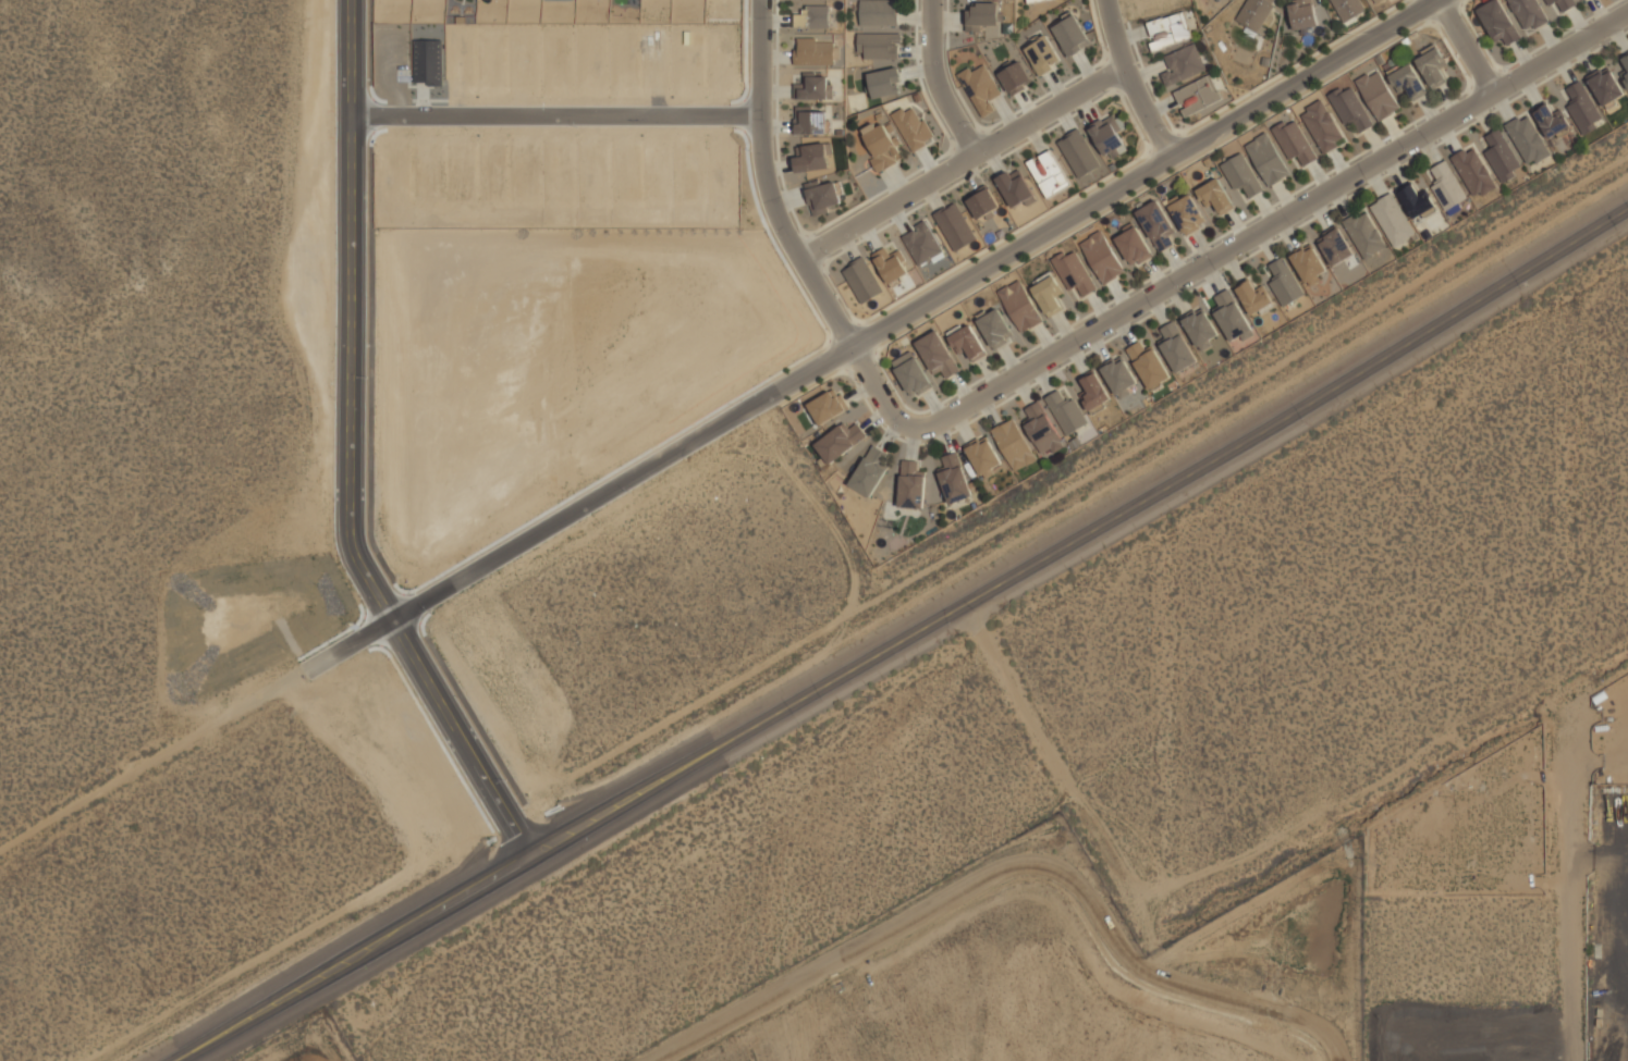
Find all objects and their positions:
building: (1581, 0)
building: (1584, 0)
building: (1031, 1)
building: (1378, 1)
building: (1562, 4)
building: (1348, 9)
building: (879, 13)
building: (1256, 13)
building: (983, 14)
building: (1302, 14)
building: (1528, 14)
building: (813, 17)
building: (1498, 24)
building: (1170, 32)
building: (1072, 35)
building: (878, 47)
road: (1470, 48)
building: (815, 52)
building: (1043, 57)
building: (395, 62)
building: (591, 62)
building: (426, 63)
building: (556, 63)
building: (624, 63)
building: (686, 64)
building: (460, 65)
building: (1184, 65)
building: (523, 66)
building: (653, 66)
building: (721, 66)
building: (490, 67)
building: (1434, 69)
building: (1625, 73)
building: (1014, 77)
road: (941, 82)
road: (1134, 82)
building: (1407, 82)
building: (884, 83)
building: (1605, 86)
building: (813, 88)
building: (981, 88)
building: (1379, 95)
building: (1198, 97)
building: (1350, 108)
building: (1583, 108)
road: (562, 121)
building: (1552, 121)
building: (812, 122)
building: (911, 127)
building: (1323, 127)
building: (1109, 136)
building: (1528, 139)
building: (1295, 144)
building: (882, 147)
building: (1079, 153)
building: (1502, 157)
building: (811, 158)
road: (968, 160)
building: (1268, 160)
building: (624, 171)
building: (687, 171)
building: (1473, 171)
building: (461, 172)
building: (524, 172)
building: (558, 173)
building: (592, 173)
building: (656, 173)
building: (1049, 173)
building: (722, 174)
building: (428, 175)
building: (491, 175)
building: (1241, 175)
building: (396, 176)
building: (1447, 186)
building: (1015, 188)
building: (1215, 196)
building: (822, 198)
building: (1416, 200)
building: (982, 201)
building: (1188, 214)
building: (1393, 220)
building: (1156, 225)
building: (955, 226)
building: (1364, 234)
building: (923, 245)
building: (1335, 246)
building: (1134, 247)
building: (1103, 258)
building: (1307, 262)
building: (890, 263)
building: (1075, 272)
building: (861, 280)
building: (1284, 283)
building: (1049, 296)
building: (1253, 297)
road: (913, 305)
building: (1020, 306)
road: (358, 313)
building: (1231, 317)
building: (1201, 328)
building: (995, 329)
building: (967, 342)
building: (1177, 346)
road: (1073, 350)
building: (938, 355)
building: (1149, 365)
building: (913, 375)
building: (1119, 375)
building: (1094, 392)
building: (829, 406)
building: (1066, 411)
building: (1043, 429)
building: (840, 441)
building: (1014, 444)
building: (984, 456)
building: (871, 470)
building: (955, 478)
building: (911, 485)
road: (904, 637)
road: (348, 641)
road: (446, 743)
road: (157, 755)
road: (1054, 761)
road: (1566, 888)
landfill: (1061, 970)
landfill: (329, 1049)

